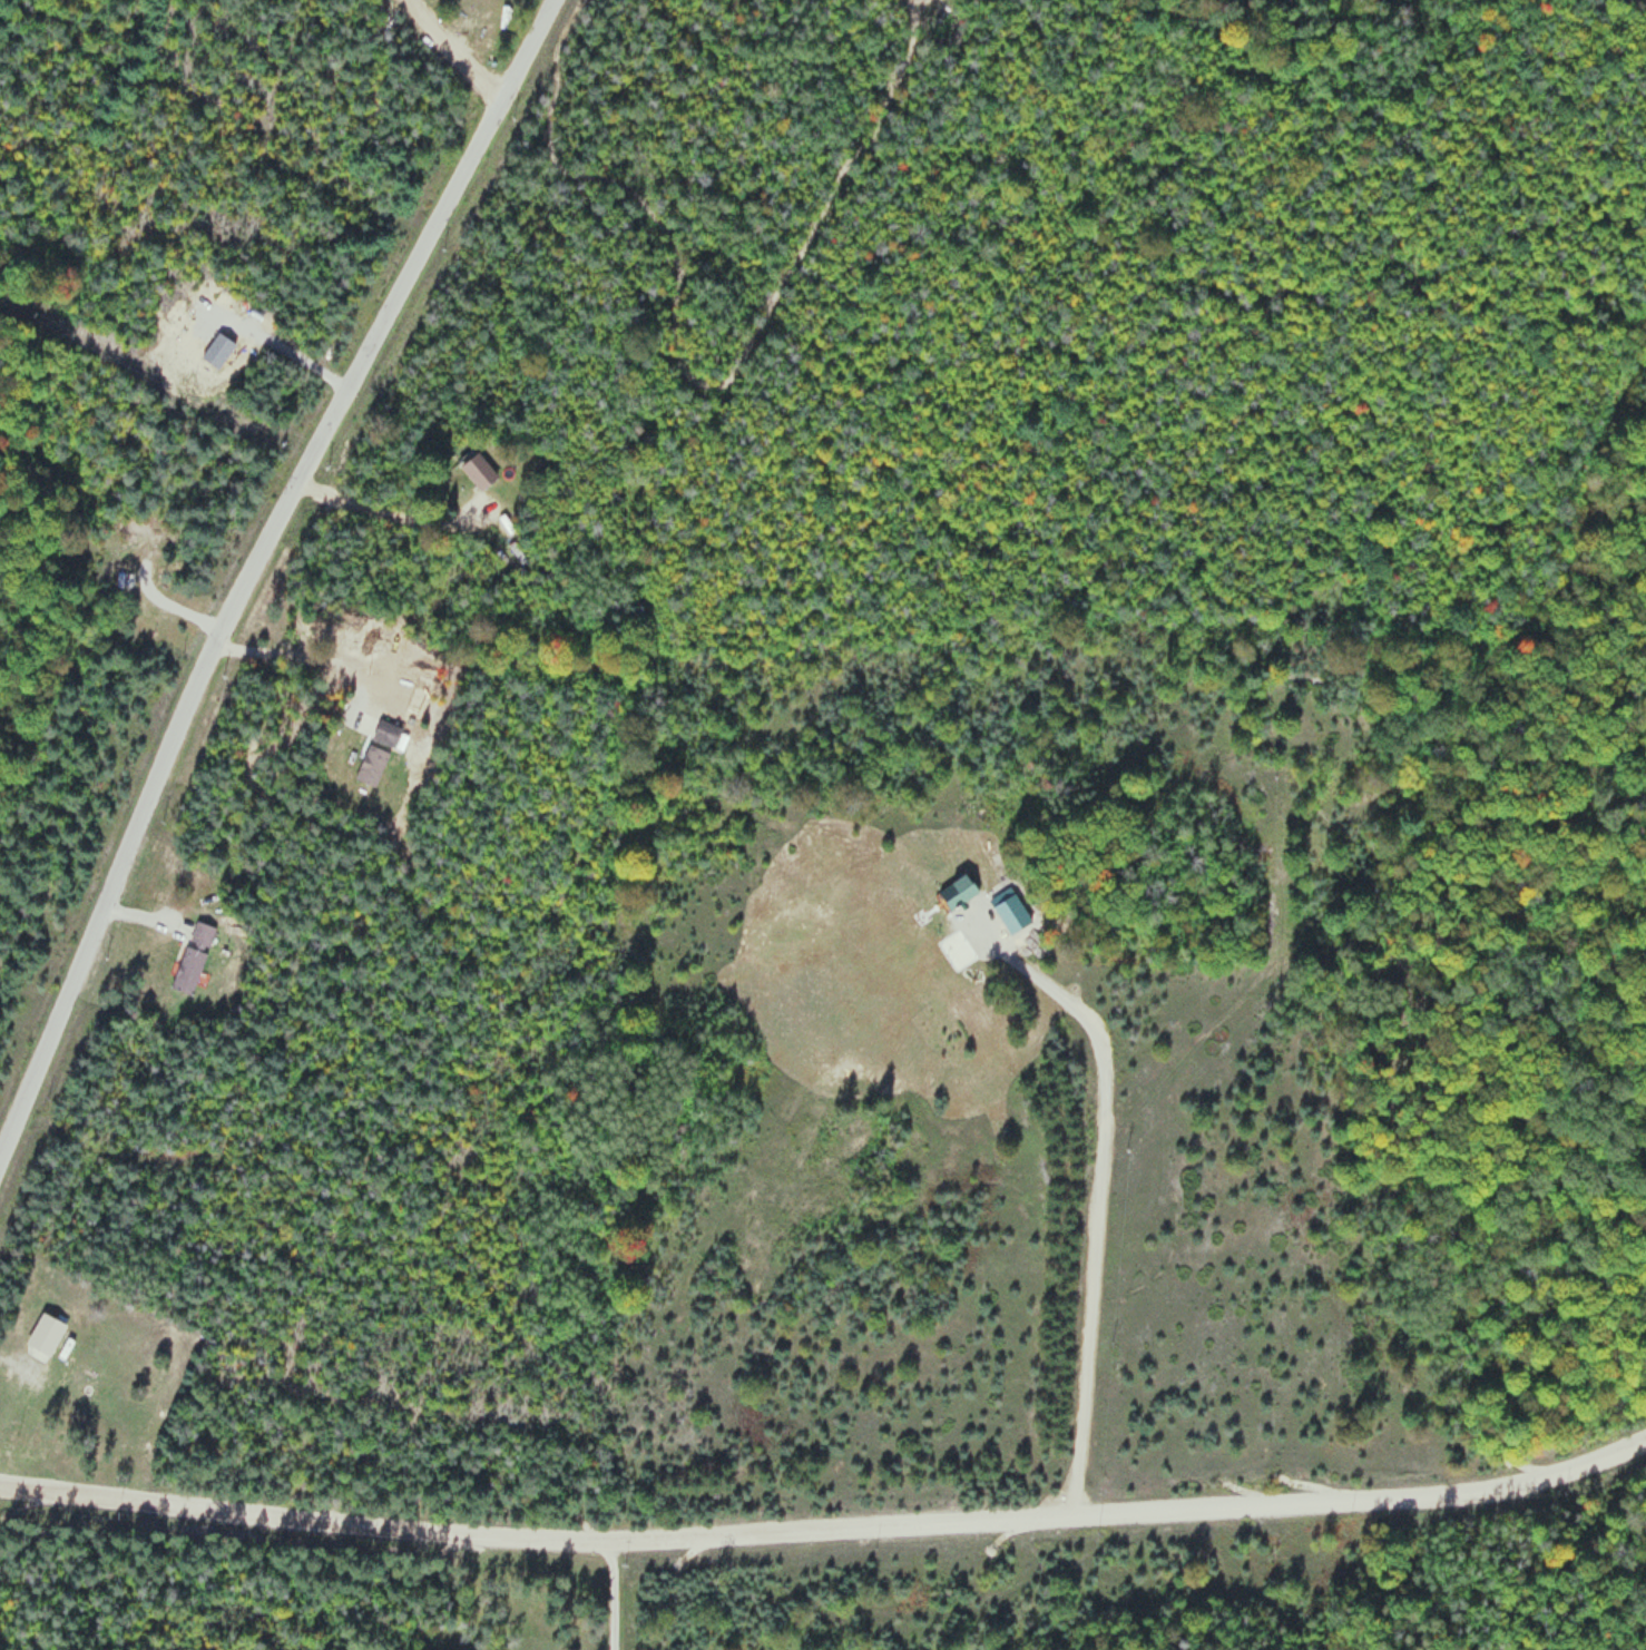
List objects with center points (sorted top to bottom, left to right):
building: (479, 470)
road: (249, 561)
building: (386, 734)
building: (372, 767)
building: (958, 892)
building: (194, 957)
road: (1051, 998)
road: (1175, 1051)
building: (46, 1334)
road: (826, 1529)
road: (256, 1602)

